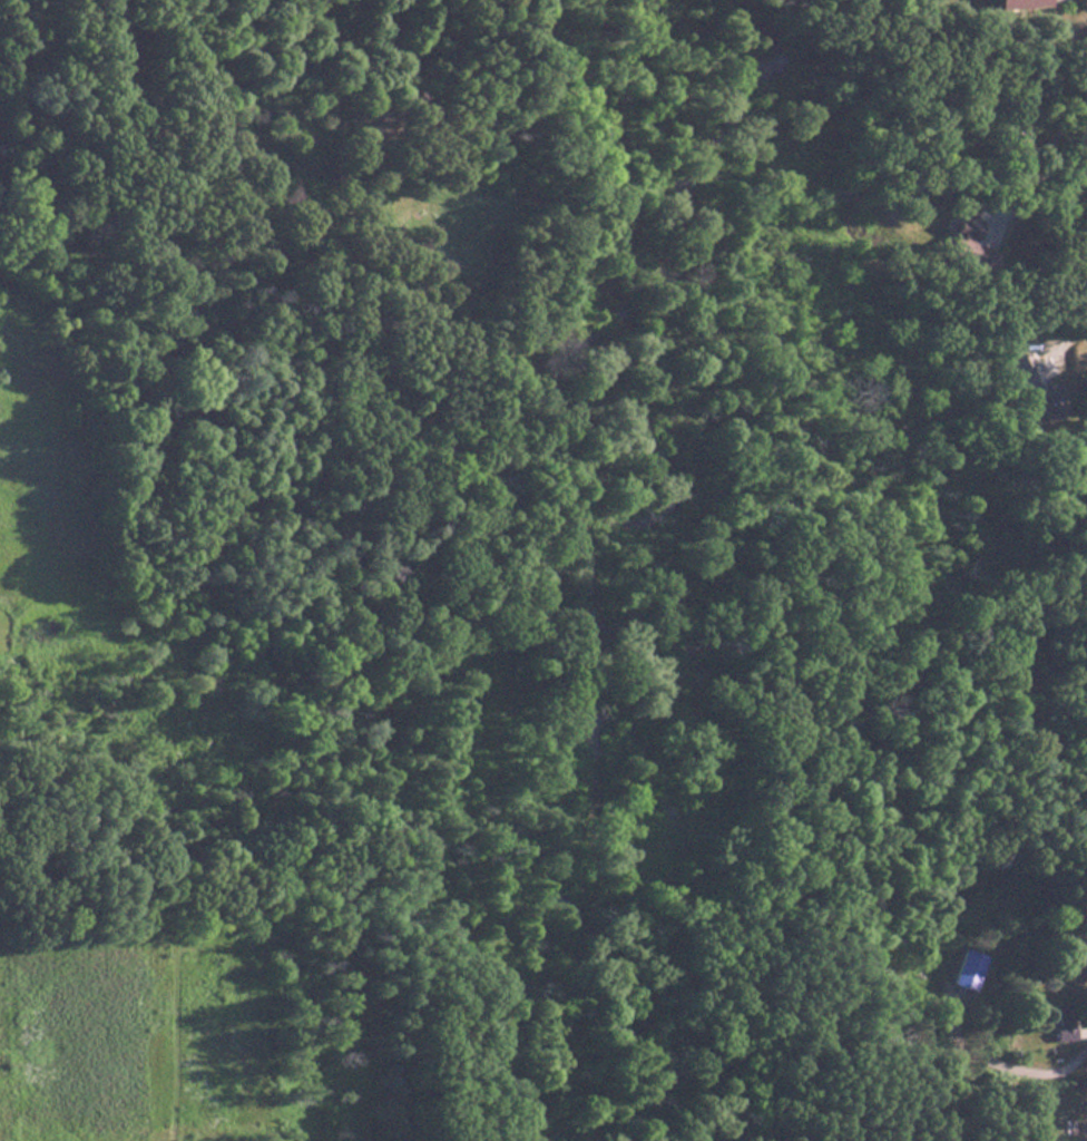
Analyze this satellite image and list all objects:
building: (1016, 4)
building: (957, 238)
building: (1031, 390)
building: (1060, 1023)
road: (1009, 1066)

